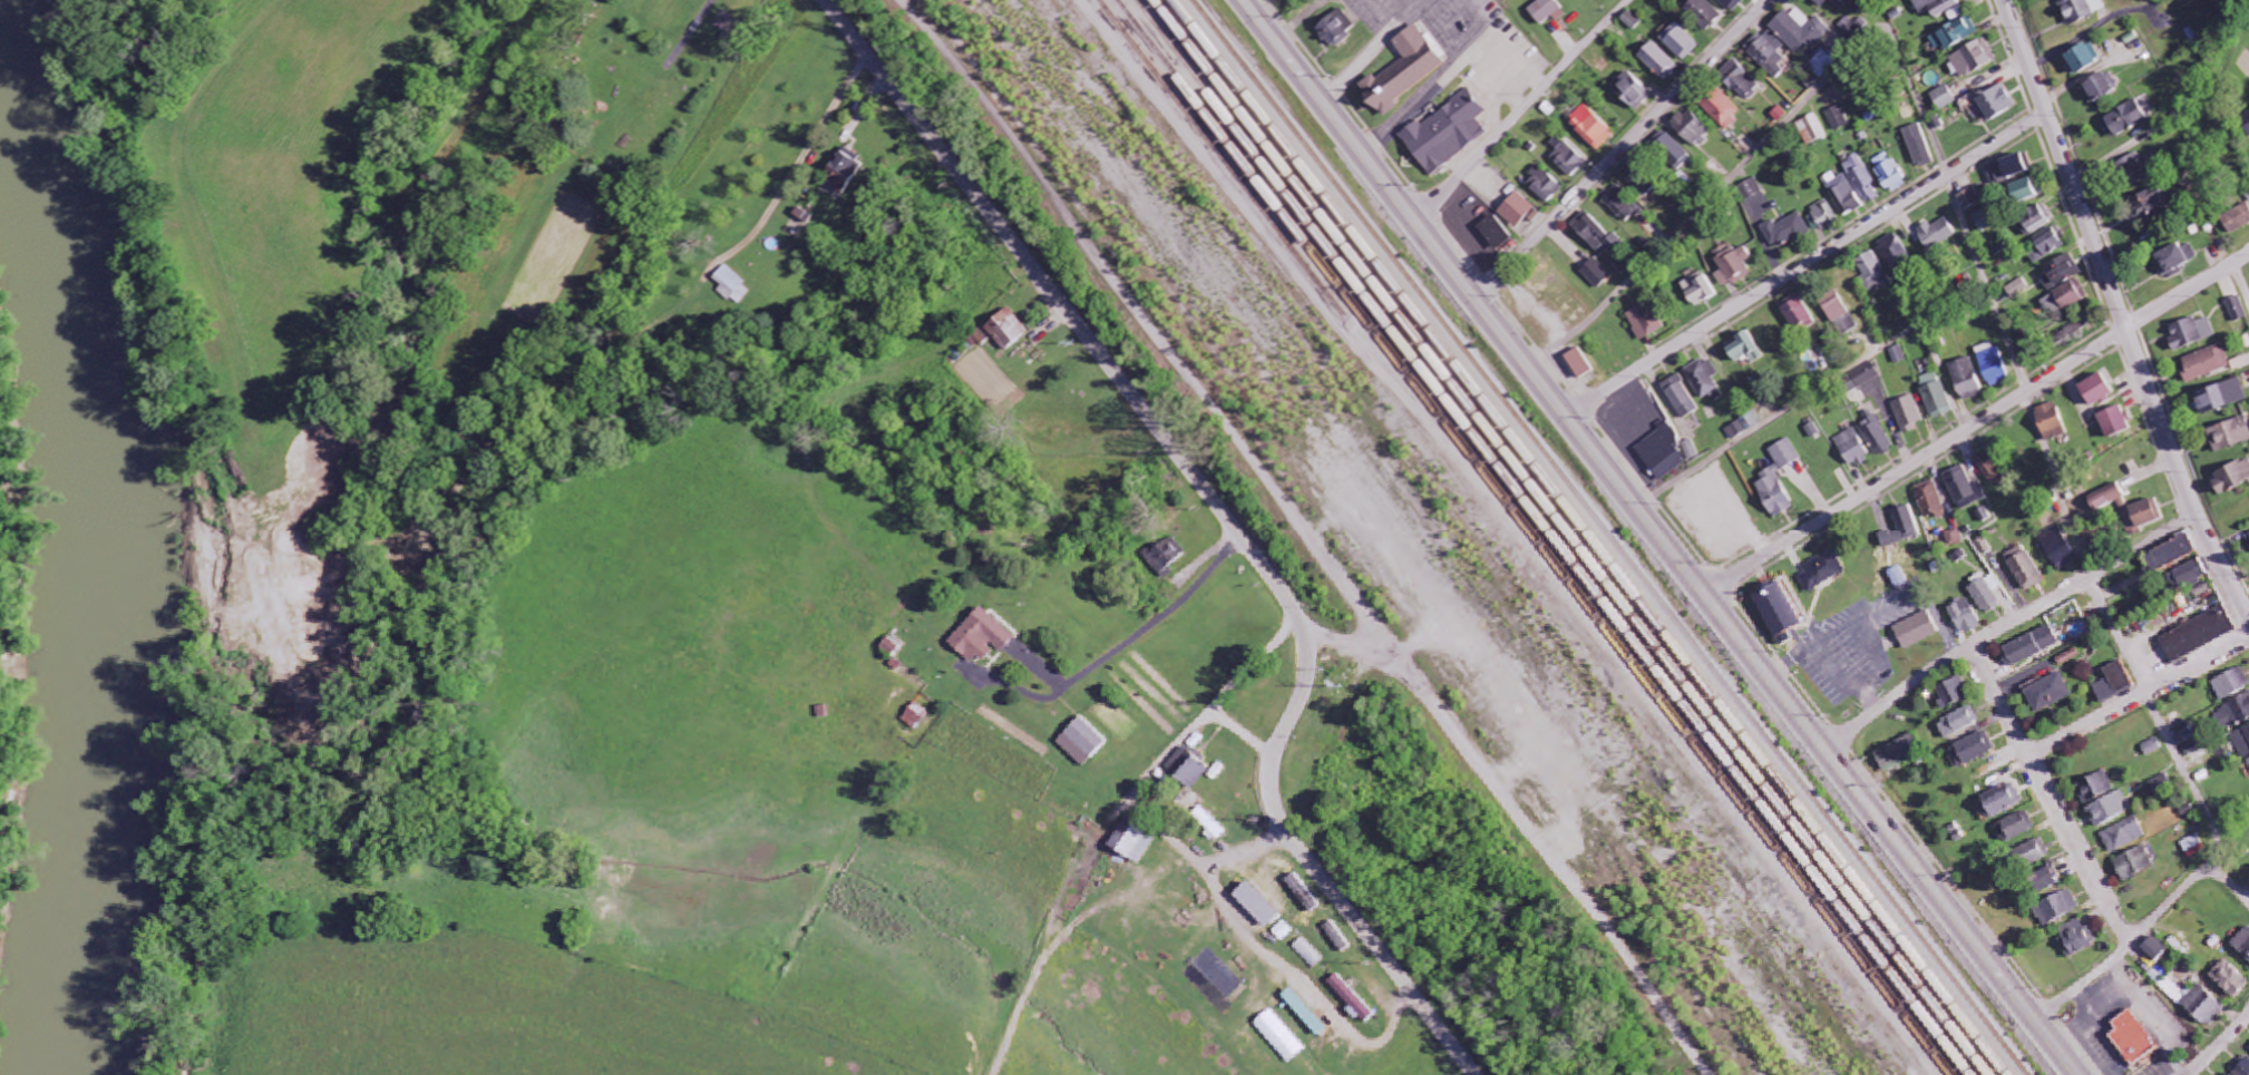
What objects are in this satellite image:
building: (1336, 0)
building: (1829, 2)
building: (1732, 4)
building: (1937, 7)
building: (2082, 9)
building: (1546, 11)
building: (1702, 12)
road: (1281, 14)
building: (1630, 21)
building: (1854, 27)
building: (1335, 28)
building: (1801, 30)
building: (1955, 35)
building: (1680, 42)
building: (1769, 53)
building: (1974, 58)
building: (2083, 58)
building: (1658, 61)
building: (1824, 62)
building: (1401, 72)
building: (1740, 81)
building: (2100, 88)
building: (1632, 92)
building: (1943, 98)
building: (1995, 104)
building: (1720, 108)
road: (1522, 110)
building: (1779, 115)
building: (1838, 118)
building: (2124, 119)
building: (2246, 123)
building: (1590, 128)
building: (1691, 129)
building: (1811, 130)
building: (1445, 134)
building: (1918, 146)
road: (1622, 149)
building: (1672, 150)
building: (1569, 160)
building: (2008, 168)
road: (797, 169)
building: (2140, 169)
building: (838, 172)
building: (1888, 174)
building: (1860, 179)
building: (1639, 183)
building: (1544, 185)
building: (1752, 188)
building: (2021, 192)
building: (1969, 199)
building: (1622, 204)
building: (2151, 207)
building: (1517, 212)
building: (1820, 218)
building: (2237, 219)
building: (1984, 221)
building: (2034, 223)
building: (1784, 232)
building: (1493, 233)
building: (1594, 234)
building: (1935, 234)
building: (2045, 246)
building: (1892, 254)
building: (2175, 260)
road: (1807, 265)
building: (1732, 267)
building: (1870, 272)
building: (2060, 272)
building: (1595, 274)
road: (2241, 281)
road: (1988, 285)
building: (730, 286)
building: (2016, 289)
building: (1697, 290)
road: (2187, 293)
building: (2064, 299)
building: (2238, 310)
building: (1793, 312)
building: (1836, 314)
road: (2119, 315)
building: (1643, 322)
building: (1005, 330)
building: (2191, 333)
building: (976, 340)
building: (1742, 350)
building: (1897, 355)
building: (1577, 363)
building: (2206, 363)
building: (1993, 368)
building: (1860, 379)
building: (1965, 380)
building: (1704, 381)
building: (2094, 390)
building: (1935, 395)
building: (1680, 398)
building: (2222, 398)
building: (1907, 414)
building: (2050, 422)
building: (2112, 422)
building: (1743, 426)
building: (1812, 431)
building: (1873, 434)
building: (2230, 436)
building: (1851, 448)
building: (1690, 450)
building: (1661, 455)
road: (1916, 463)
building: (1990, 469)
building: (2232, 478)
building: (1776, 480)
road: (2058, 487)
building: (1964, 489)
building: (2105, 498)
building: (1929, 500)
building: (2140, 516)
road: (1226, 517)
building: (1901, 529)
railway: (1595, 537)
road: (1661, 537)
building: (1954, 539)
building: (2248, 539)
railway: (1502, 540)
railway: (1353, 546)
river: (111, 547)
building: (1983, 547)
building: (2057, 549)
building: (2169, 556)
building: (1165, 559)
building: (2023, 569)
building: (1820, 573)
building: (2185, 576)
building: (1985, 596)
building: (1775, 612)
building: (1964, 618)
road: (2007, 627)
building: (1915, 632)
building: (2197, 636)
building: (977, 638)
building: (2027, 648)
building: (2113, 685)
building: (2230, 685)
building: (1953, 694)
building: (2047, 695)
road: (2141, 696)
building: (2237, 712)
building: (913, 717)
building: (1959, 724)
building: (2184, 732)
building: (2242, 741)
building: (1079, 743)
building: (2152, 749)
building: (1974, 751)
building: (1898, 754)
building: (2248, 761)
building: (1186, 771)
road: (2185, 772)
building: (2162, 786)
building: (2095, 789)
road: (2052, 797)
building: (2003, 802)
building: (2109, 811)
building: (1207, 824)
building: (2015, 829)
building: (2123, 838)
building: (1130, 846)
road: (1529, 850)
building: (2029, 856)
building: (2134, 866)
building: (2043, 881)
building: (1254, 907)
building: (2056, 909)
building: (1337, 939)
building: (2074, 940)
building: (2242, 946)
building: (2151, 952)
building: (1307, 955)
building: (2229, 981)
road: (2084, 986)
building: (1350, 1001)
building: (2196, 1005)
building: (1277, 1038)
building: (2132, 1040)
road: (2219, 1045)
building: (2242, 1068)

